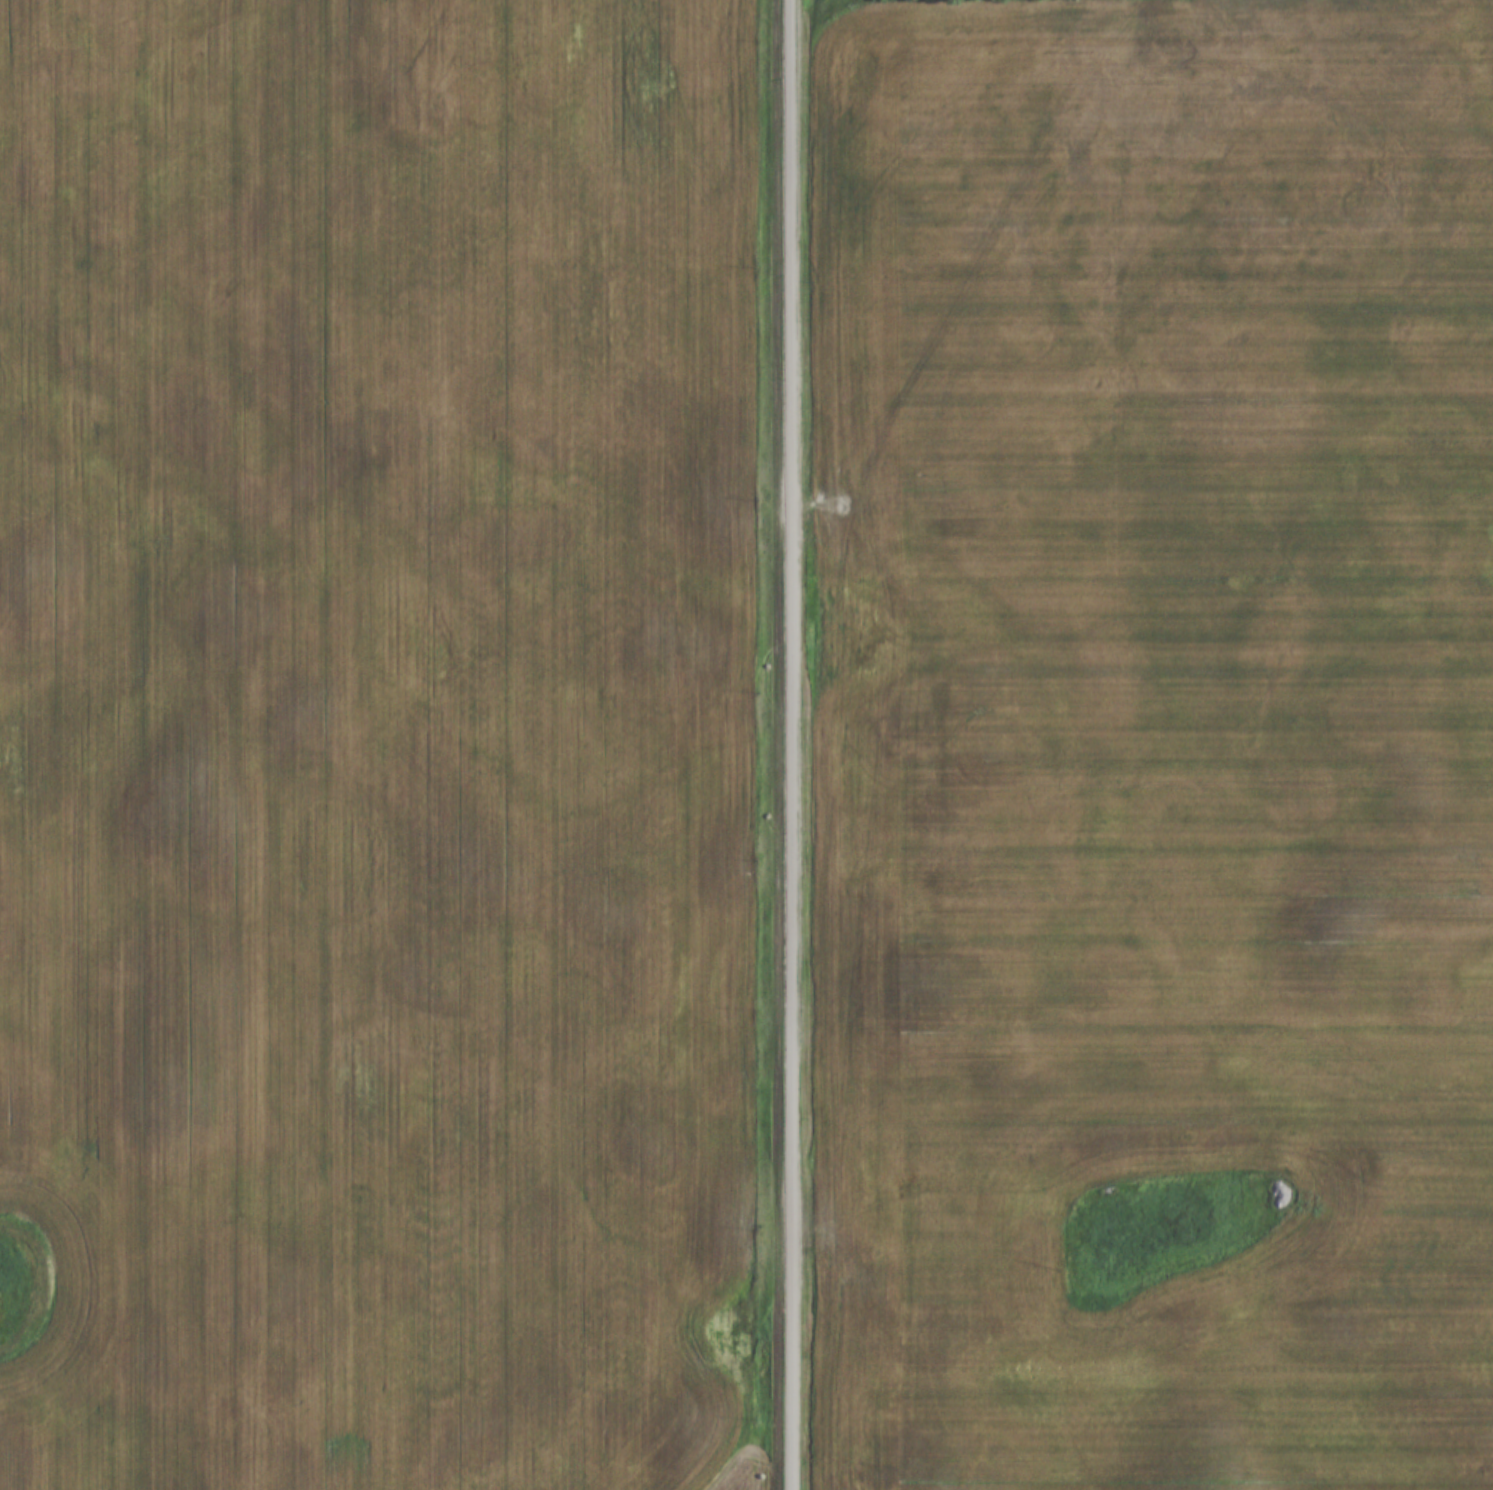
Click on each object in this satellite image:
road: (791, 744)

